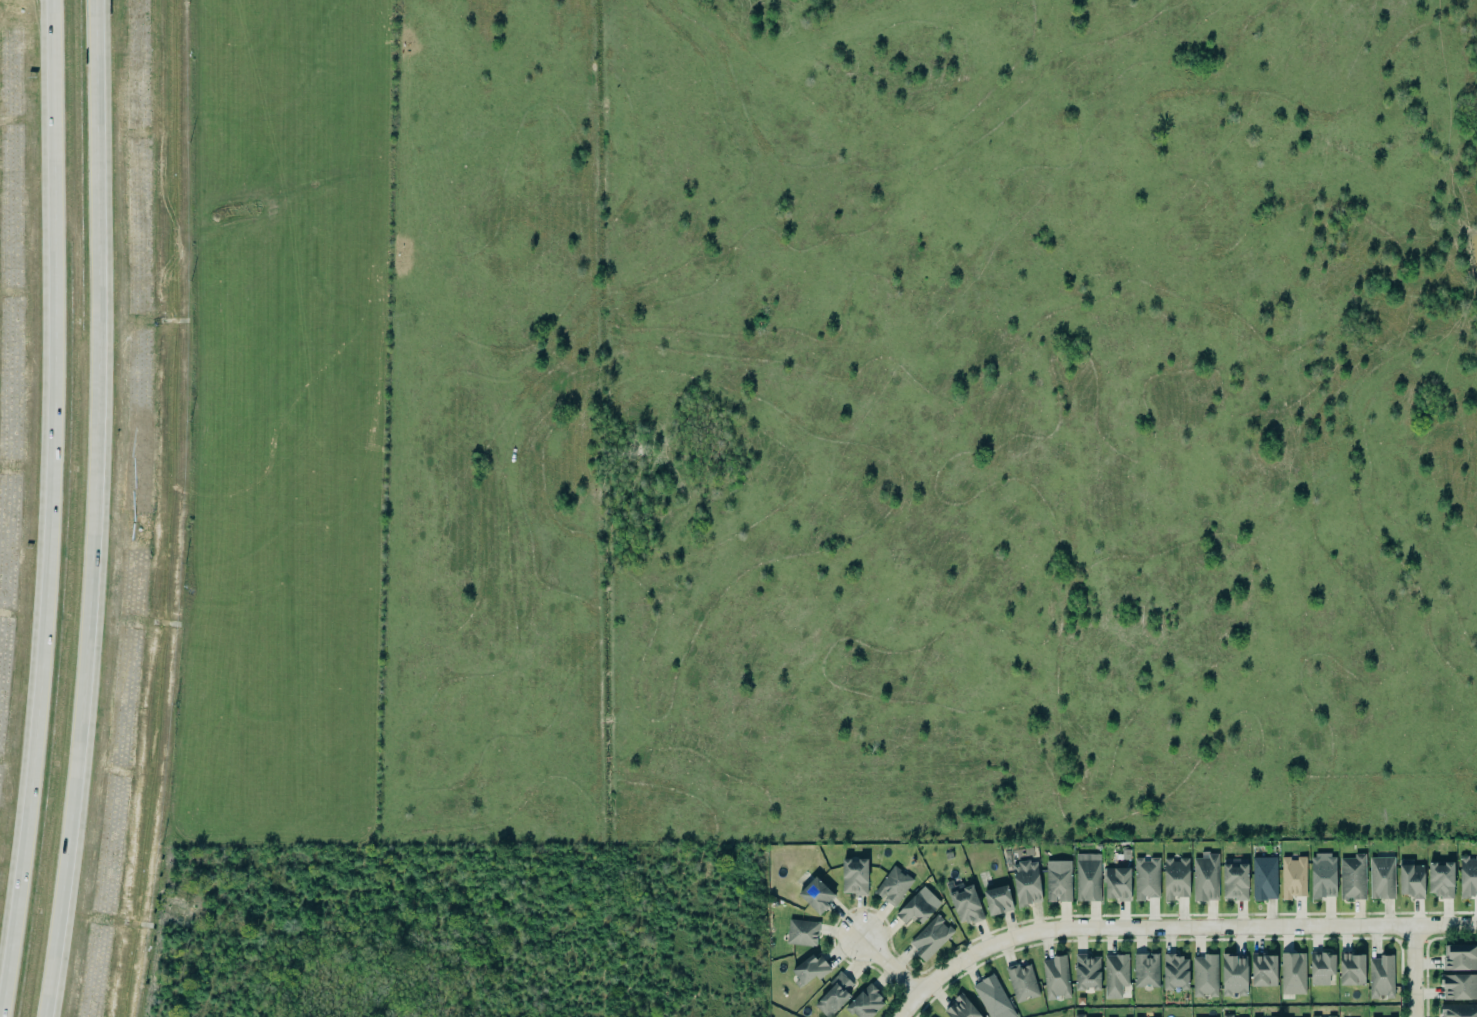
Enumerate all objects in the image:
road: (48, 504)
road: (96, 509)
building: (1320, 876)
building: (852, 877)
building: (1205, 877)
building: (1467, 877)
building: (1086, 878)
building: (1262, 878)
building: (1291, 878)
building: (1351, 878)
building: (1146, 879)
building: (1175, 879)
building: (1440, 879)
building: (1380, 880)
building: (1056, 881)
building: (1411, 881)
building: (1234, 882)
building: (1026, 883)
building: (1115, 884)
building: (893, 886)
building: (814, 897)
building: (996, 901)
building: (965, 906)
building: (915, 909)
road: (1169, 924)
building: (802, 933)
building: (928, 936)
building: (1459, 958)
road: (876, 960)
building: (807, 968)
building: (1143, 968)
building: (1260, 968)
building: (1321, 968)
building: (1348, 968)
building: (1083, 970)
building: (1172, 970)
road: (1414, 972)
building: (1112, 974)
building: (1292, 974)
building: (1234, 975)
building: (1204, 977)
building: (1381, 977)
building: (1055, 978)
building: (1021, 982)
building: (1457, 985)
building: (832, 993)
building: (992, 998)
building: (865, 1003)
building: (957, 1008)
building: (1457, 1010)
building: (1076, 1014)
building: (1144, 1014)
building: (1226, 1015)
building: (1333, 1016)

